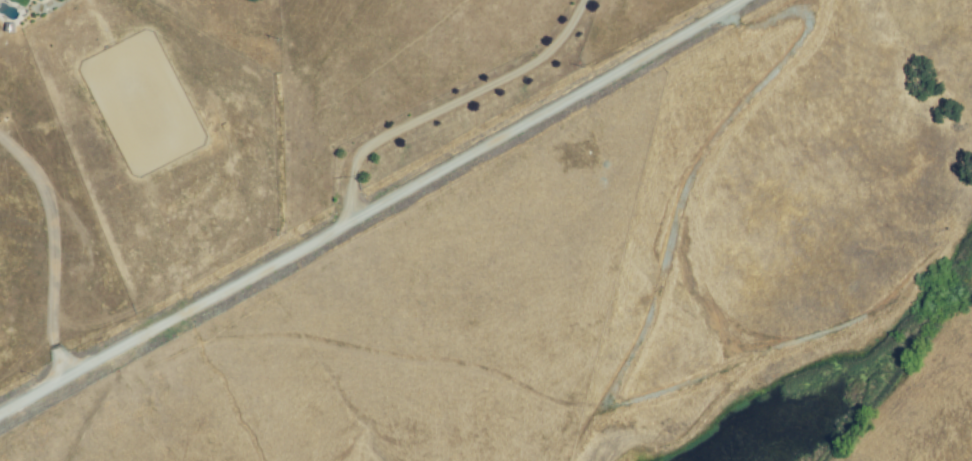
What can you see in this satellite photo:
road: (447, 103)
road: (370, 207)
road: (54, 245)

